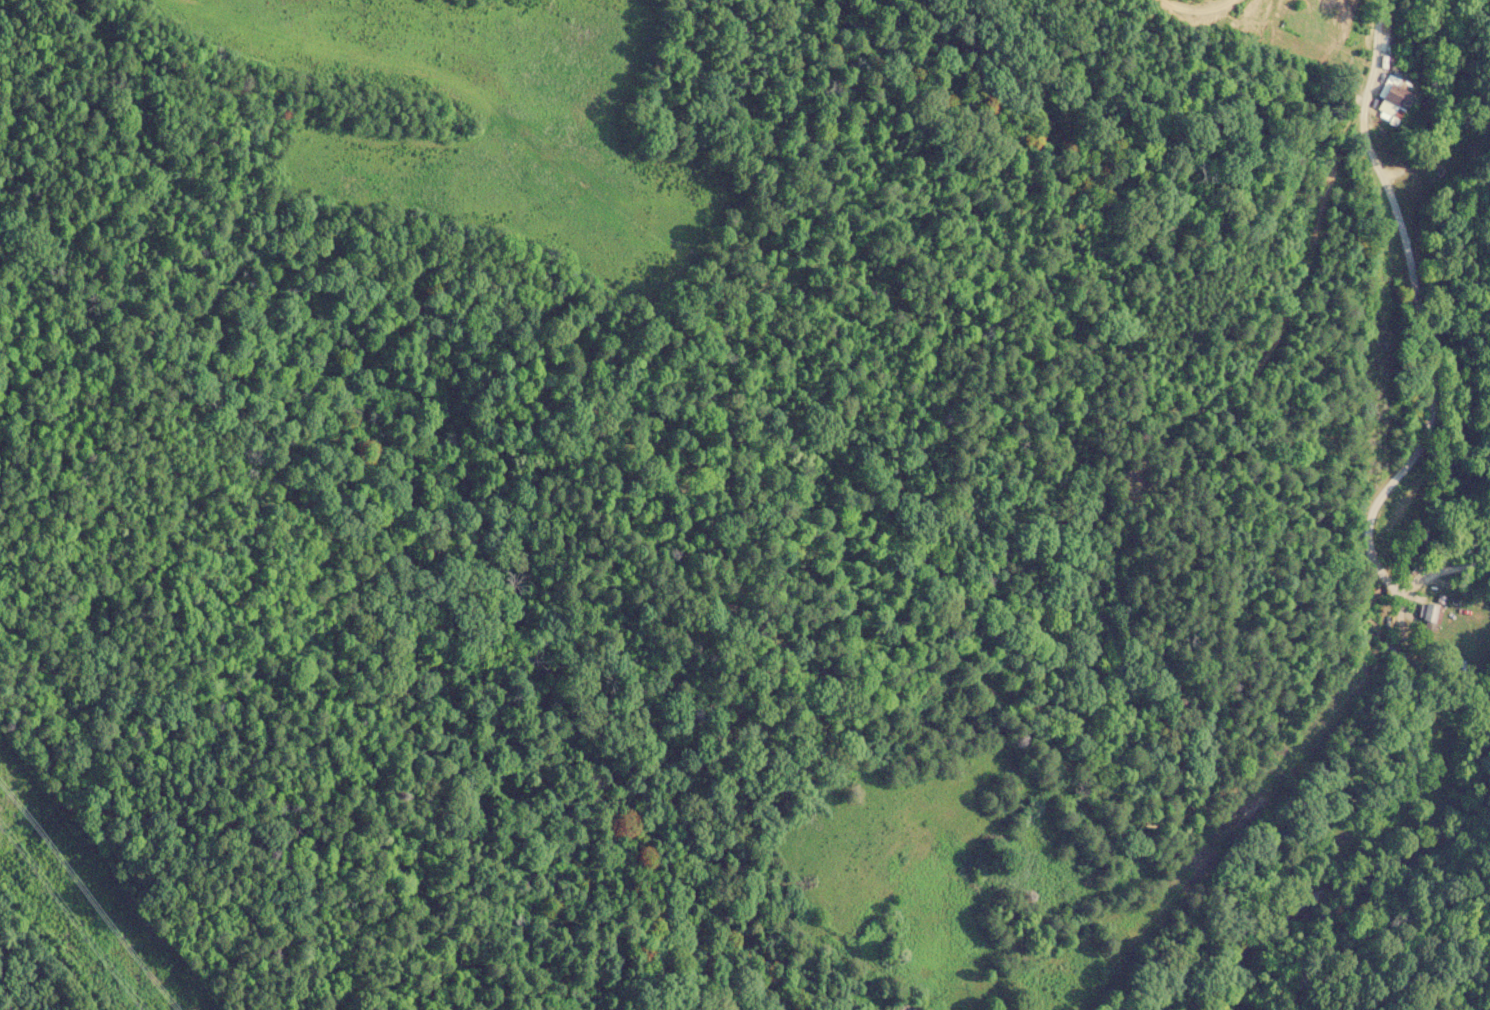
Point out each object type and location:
road: (1450, 306)
road: (1450, 591)
road: (1387, 834)

